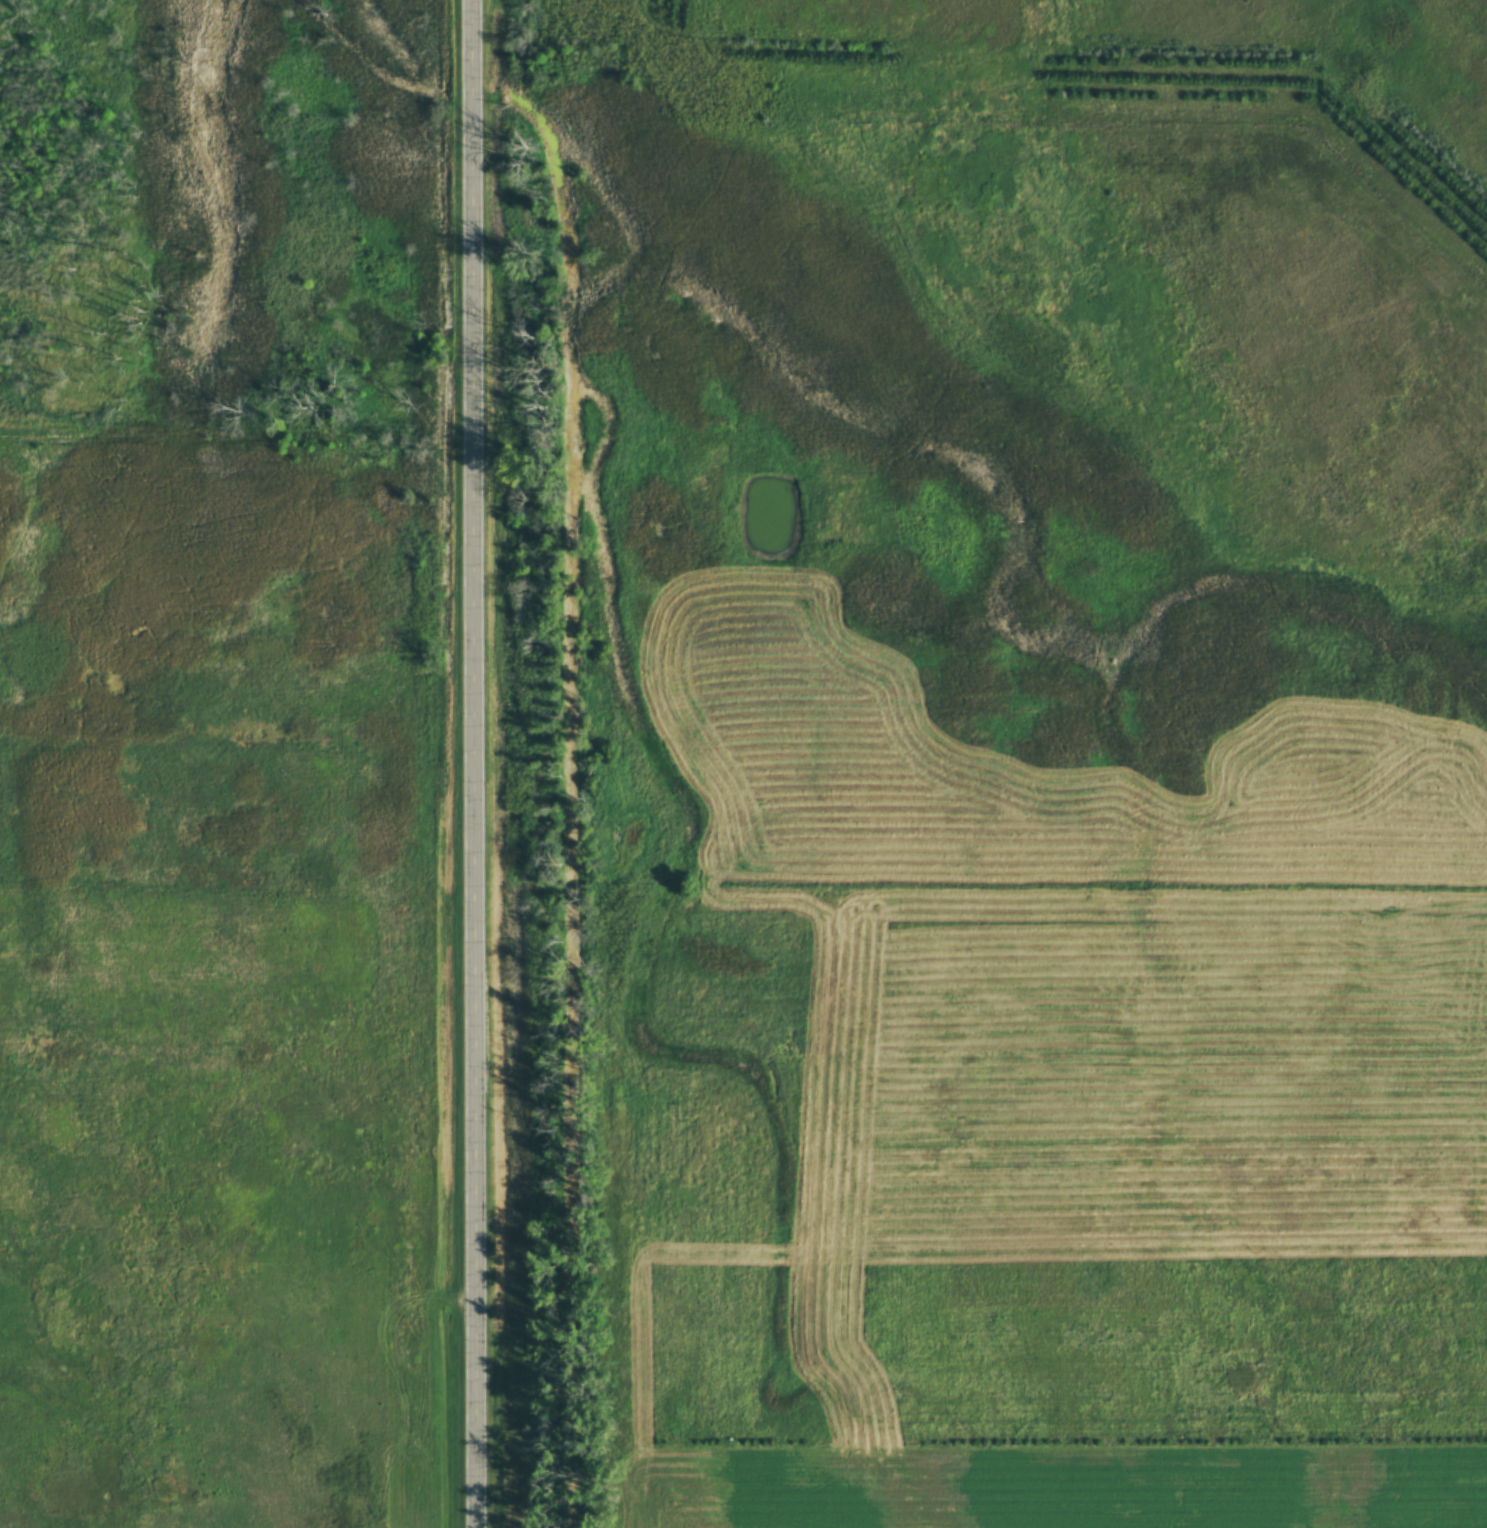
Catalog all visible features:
road: (168, 366)
road: (474, 763)

